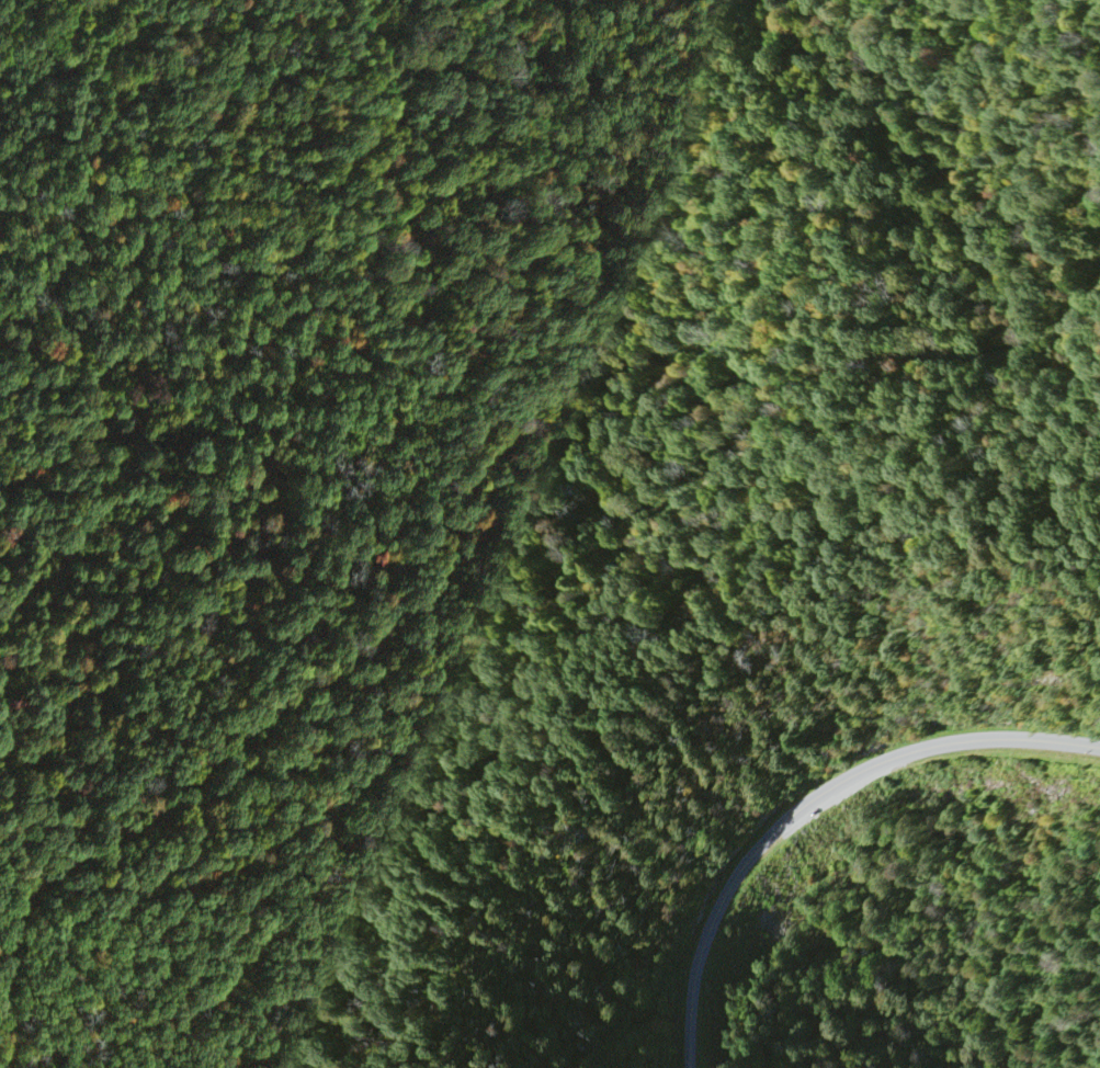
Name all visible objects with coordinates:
road: (810, 803)

